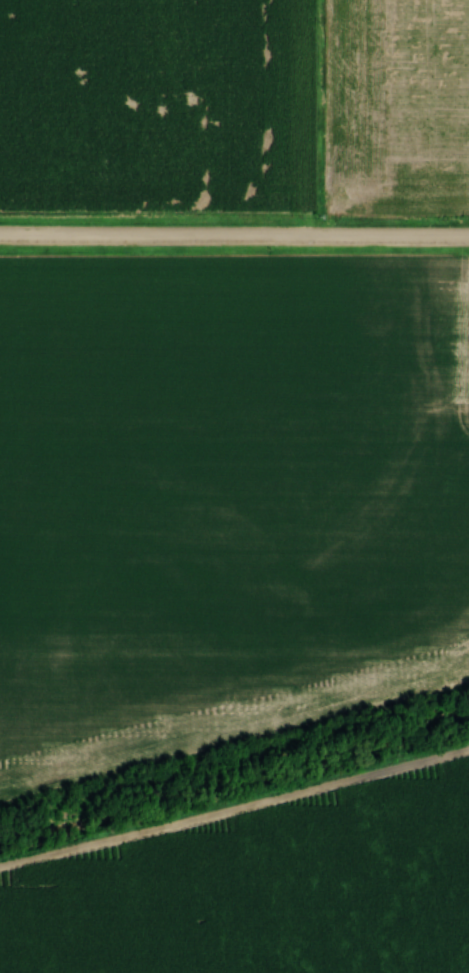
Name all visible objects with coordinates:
road: (234, 242)

